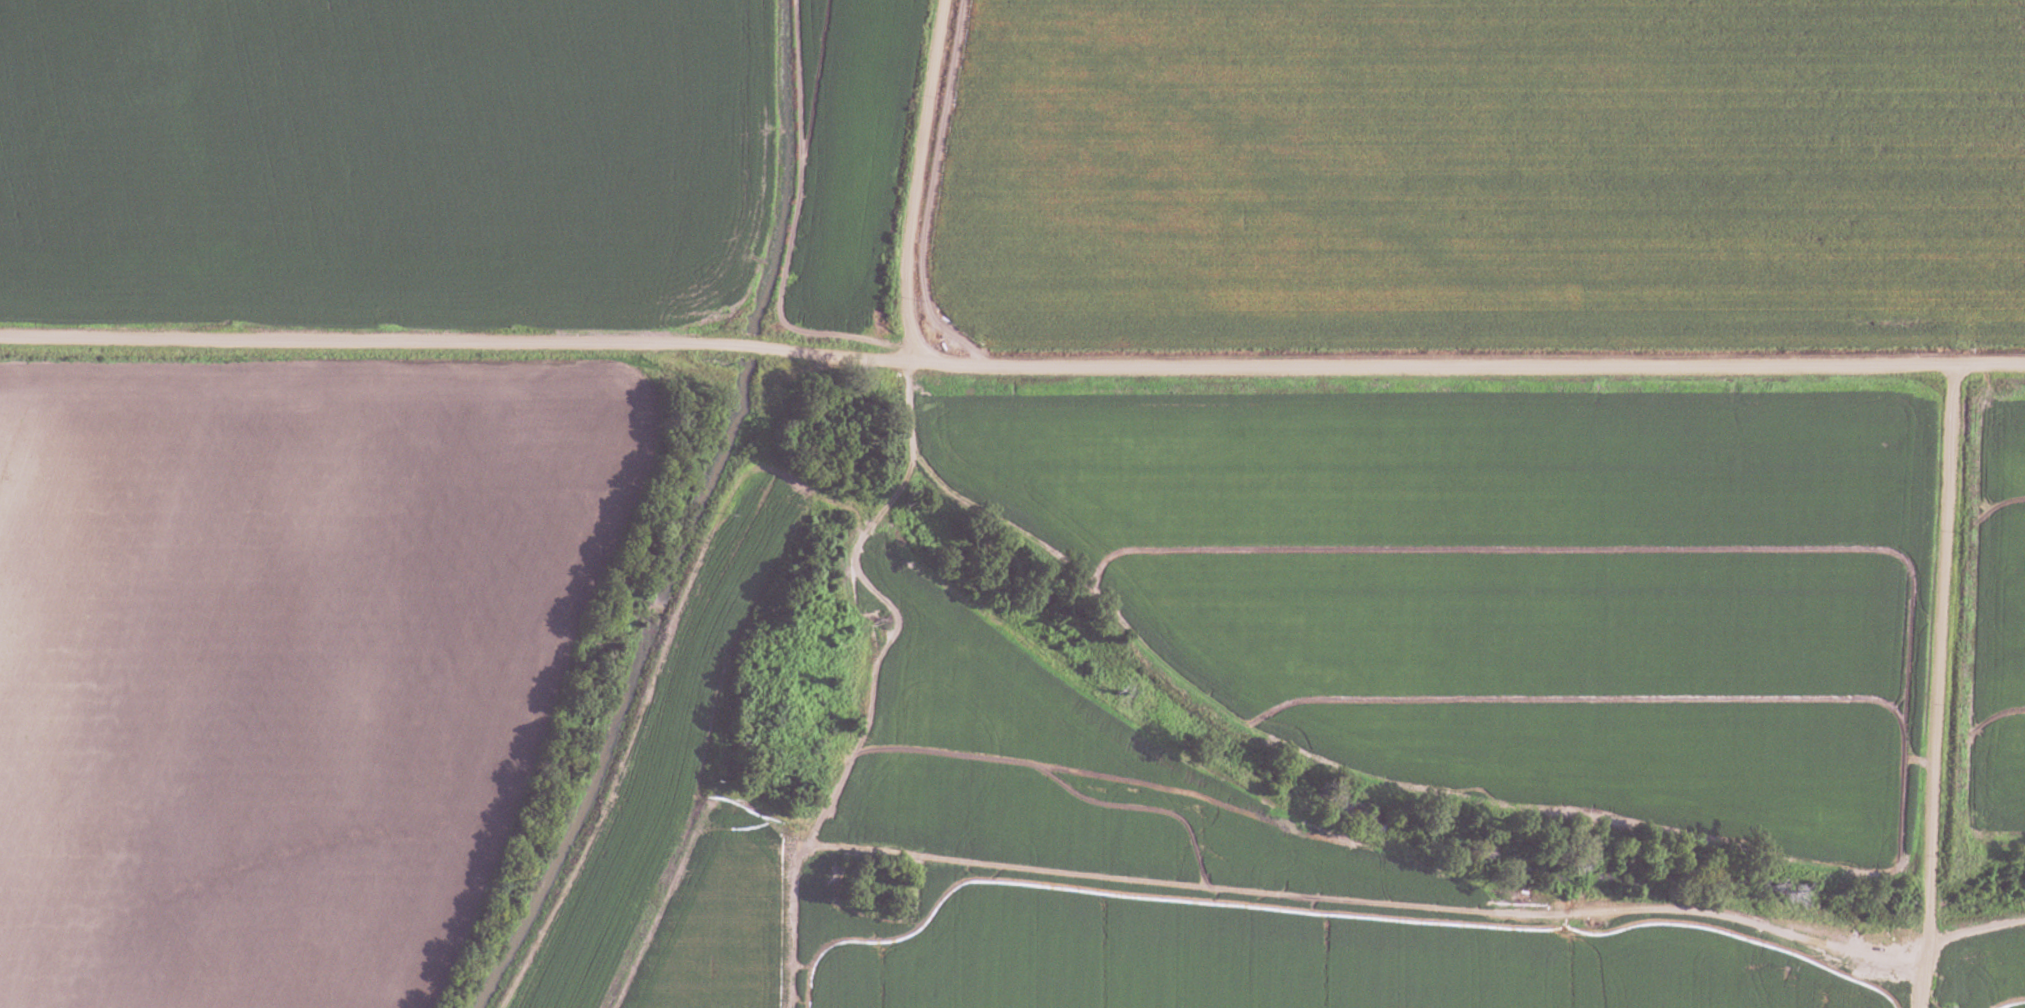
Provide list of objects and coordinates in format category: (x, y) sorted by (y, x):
road: (927, 176)
road: (1012, 361)
road: (1943, 688)

